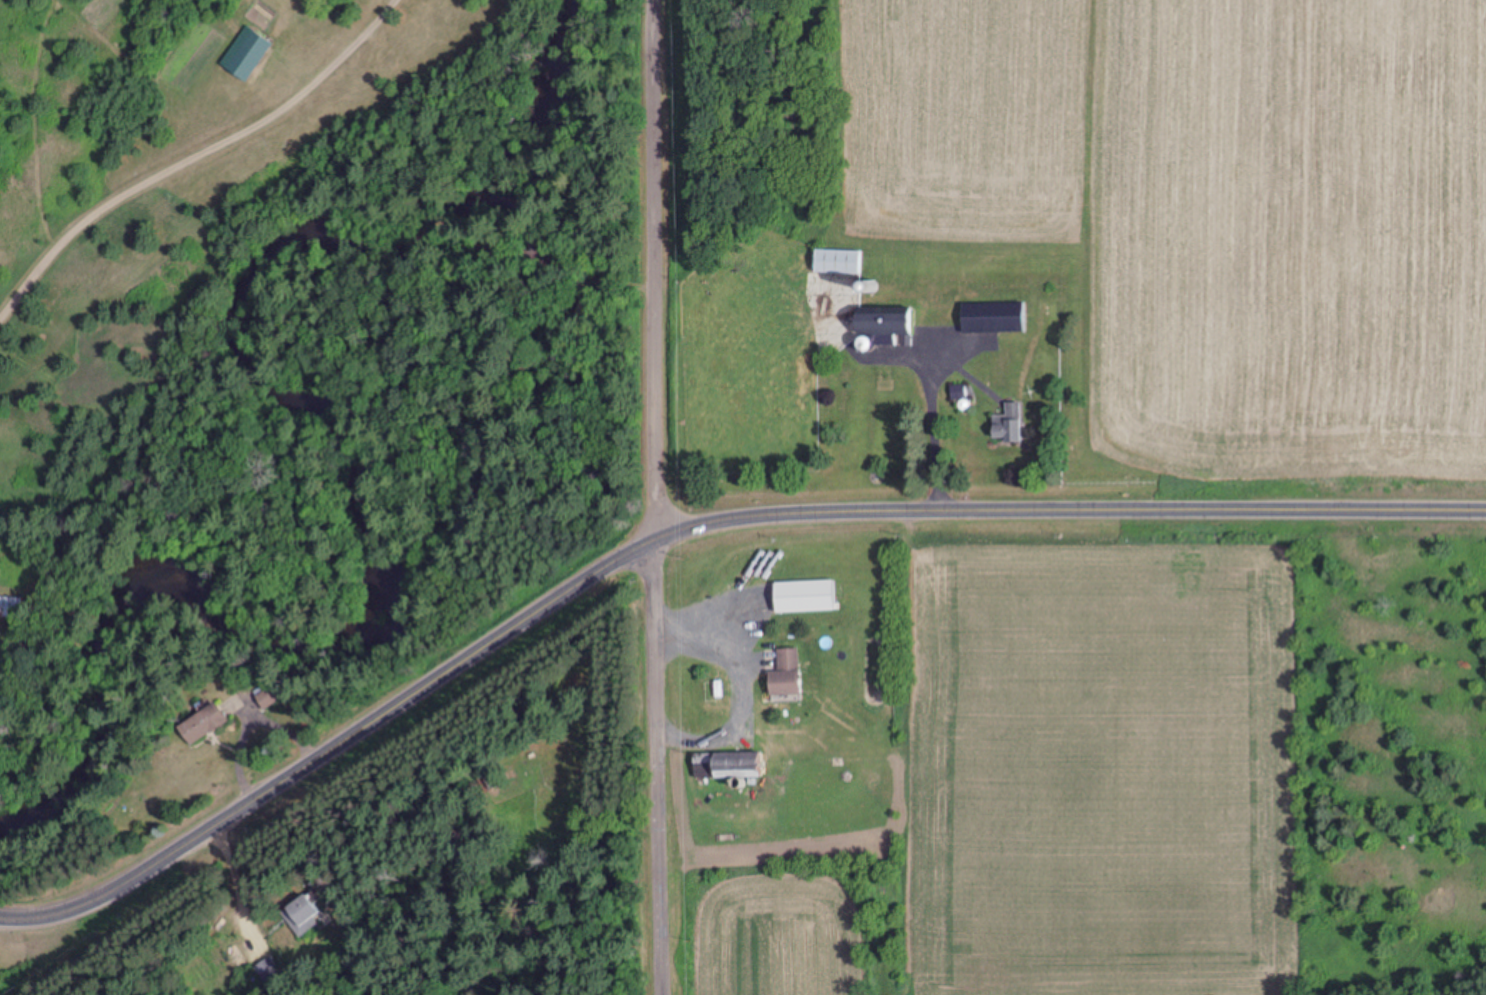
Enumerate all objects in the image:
building: (243, 54)
building: (835, 262)
building: (991, 320)
building: (873, 328)
building: (1006, 424)
road: (665, 496)
road: (688, 526)
building: (10, 607)
building: (782, 675)
building: (707, 692)
building: (264, 699)
building: (200, 725)
building: (724, 765)
building: (299, 913)
road: (1, 915)

